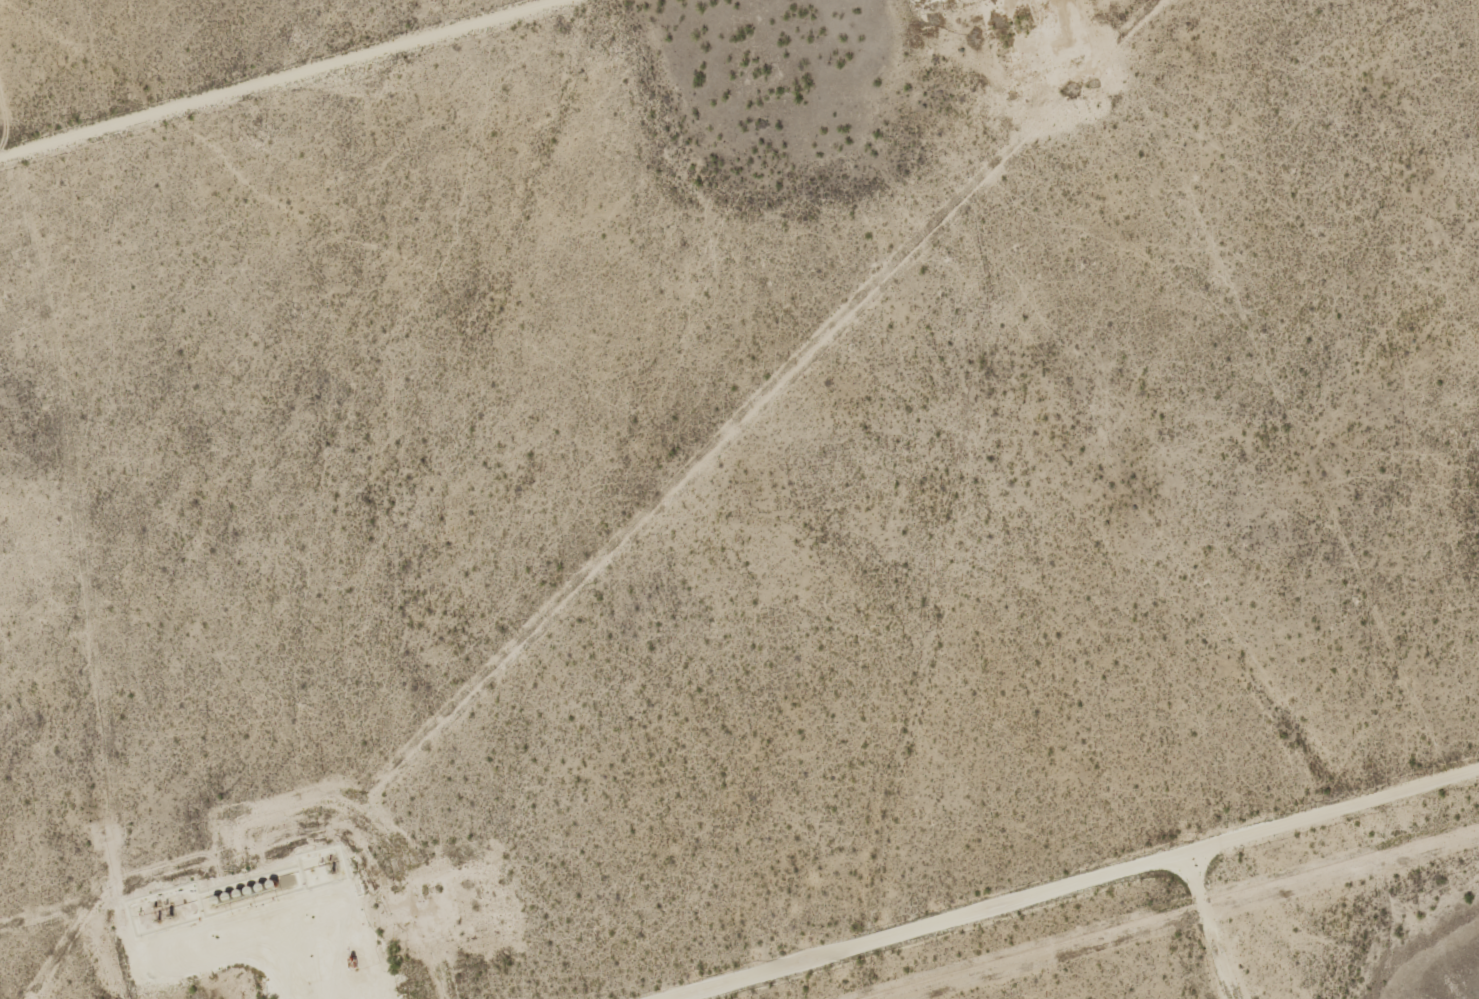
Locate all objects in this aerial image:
petroleum well: (355, 962)

